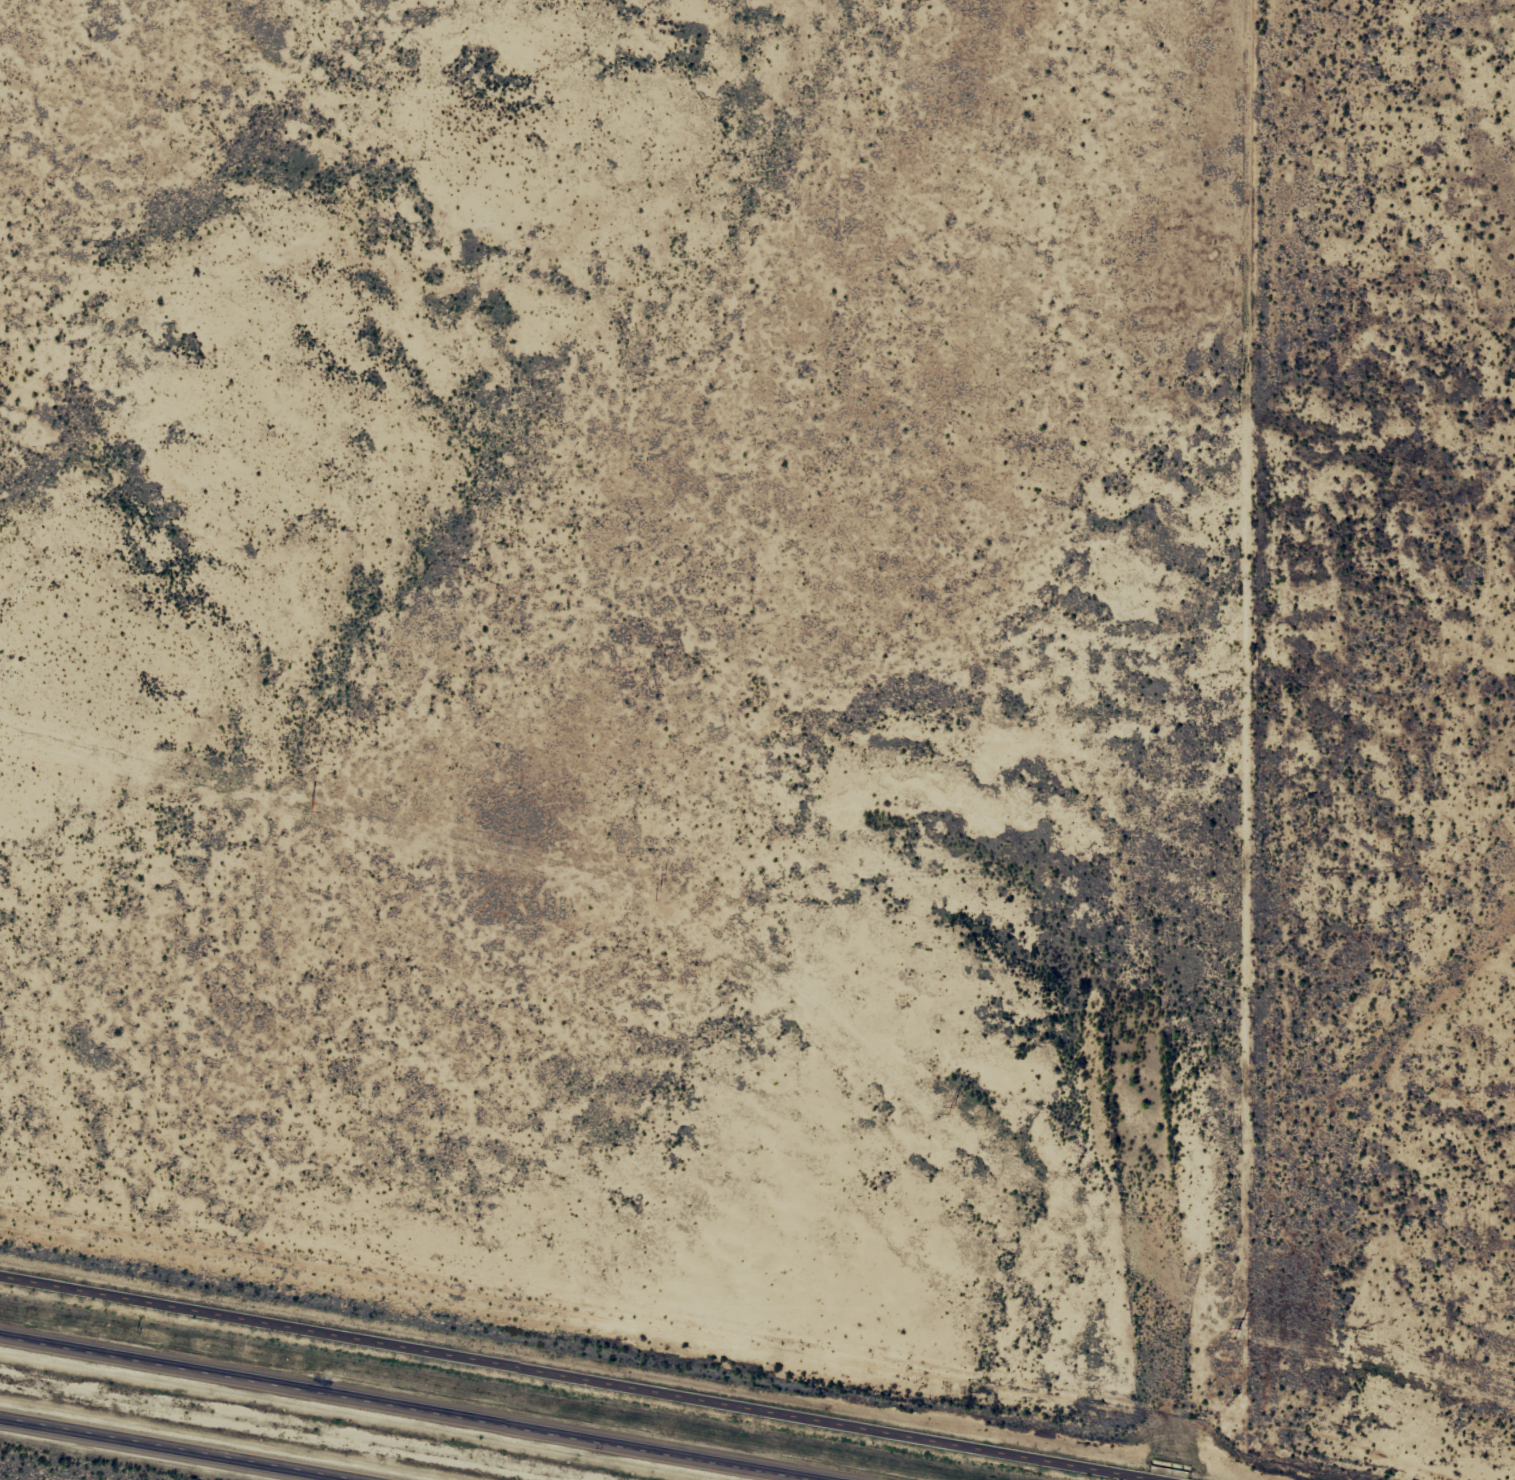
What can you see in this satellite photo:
power tower: (312, 807)
power tower: (660, 890)
power tower: (952, 1110)
power tower: (1241, 1327)
road: (587, 1379)
road: (433, 1404)
road: (167, 1449)

